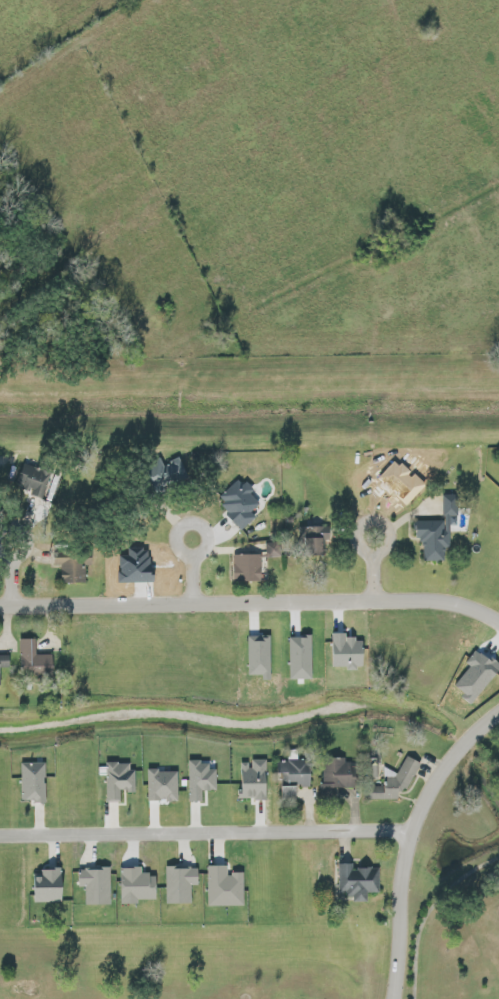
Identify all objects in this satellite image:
building: (174, 470)
building: (39, 481)
building: (241, 503)
building: (440, 531)
building: (254, 563)
building: (74, 565)
road: (16, 569)
road: (191, 580)
road: (377, 583)
road: (251, 606)
building: (36, 660)
building: (4, 664)
building: (340, 776)
building: (296, 777)
building: (202, 779)
building: (119, 780)
building: (255, 780)
building: (34, 782)
building: (164, 785)
road: (208, 834)
road: (412, 845)
building: (358, 883)
building: (181, 884)
building: (49, 886)
building: (97, 886)
building: (138, 886)
building: (226, 887)
park: (280, 953)

